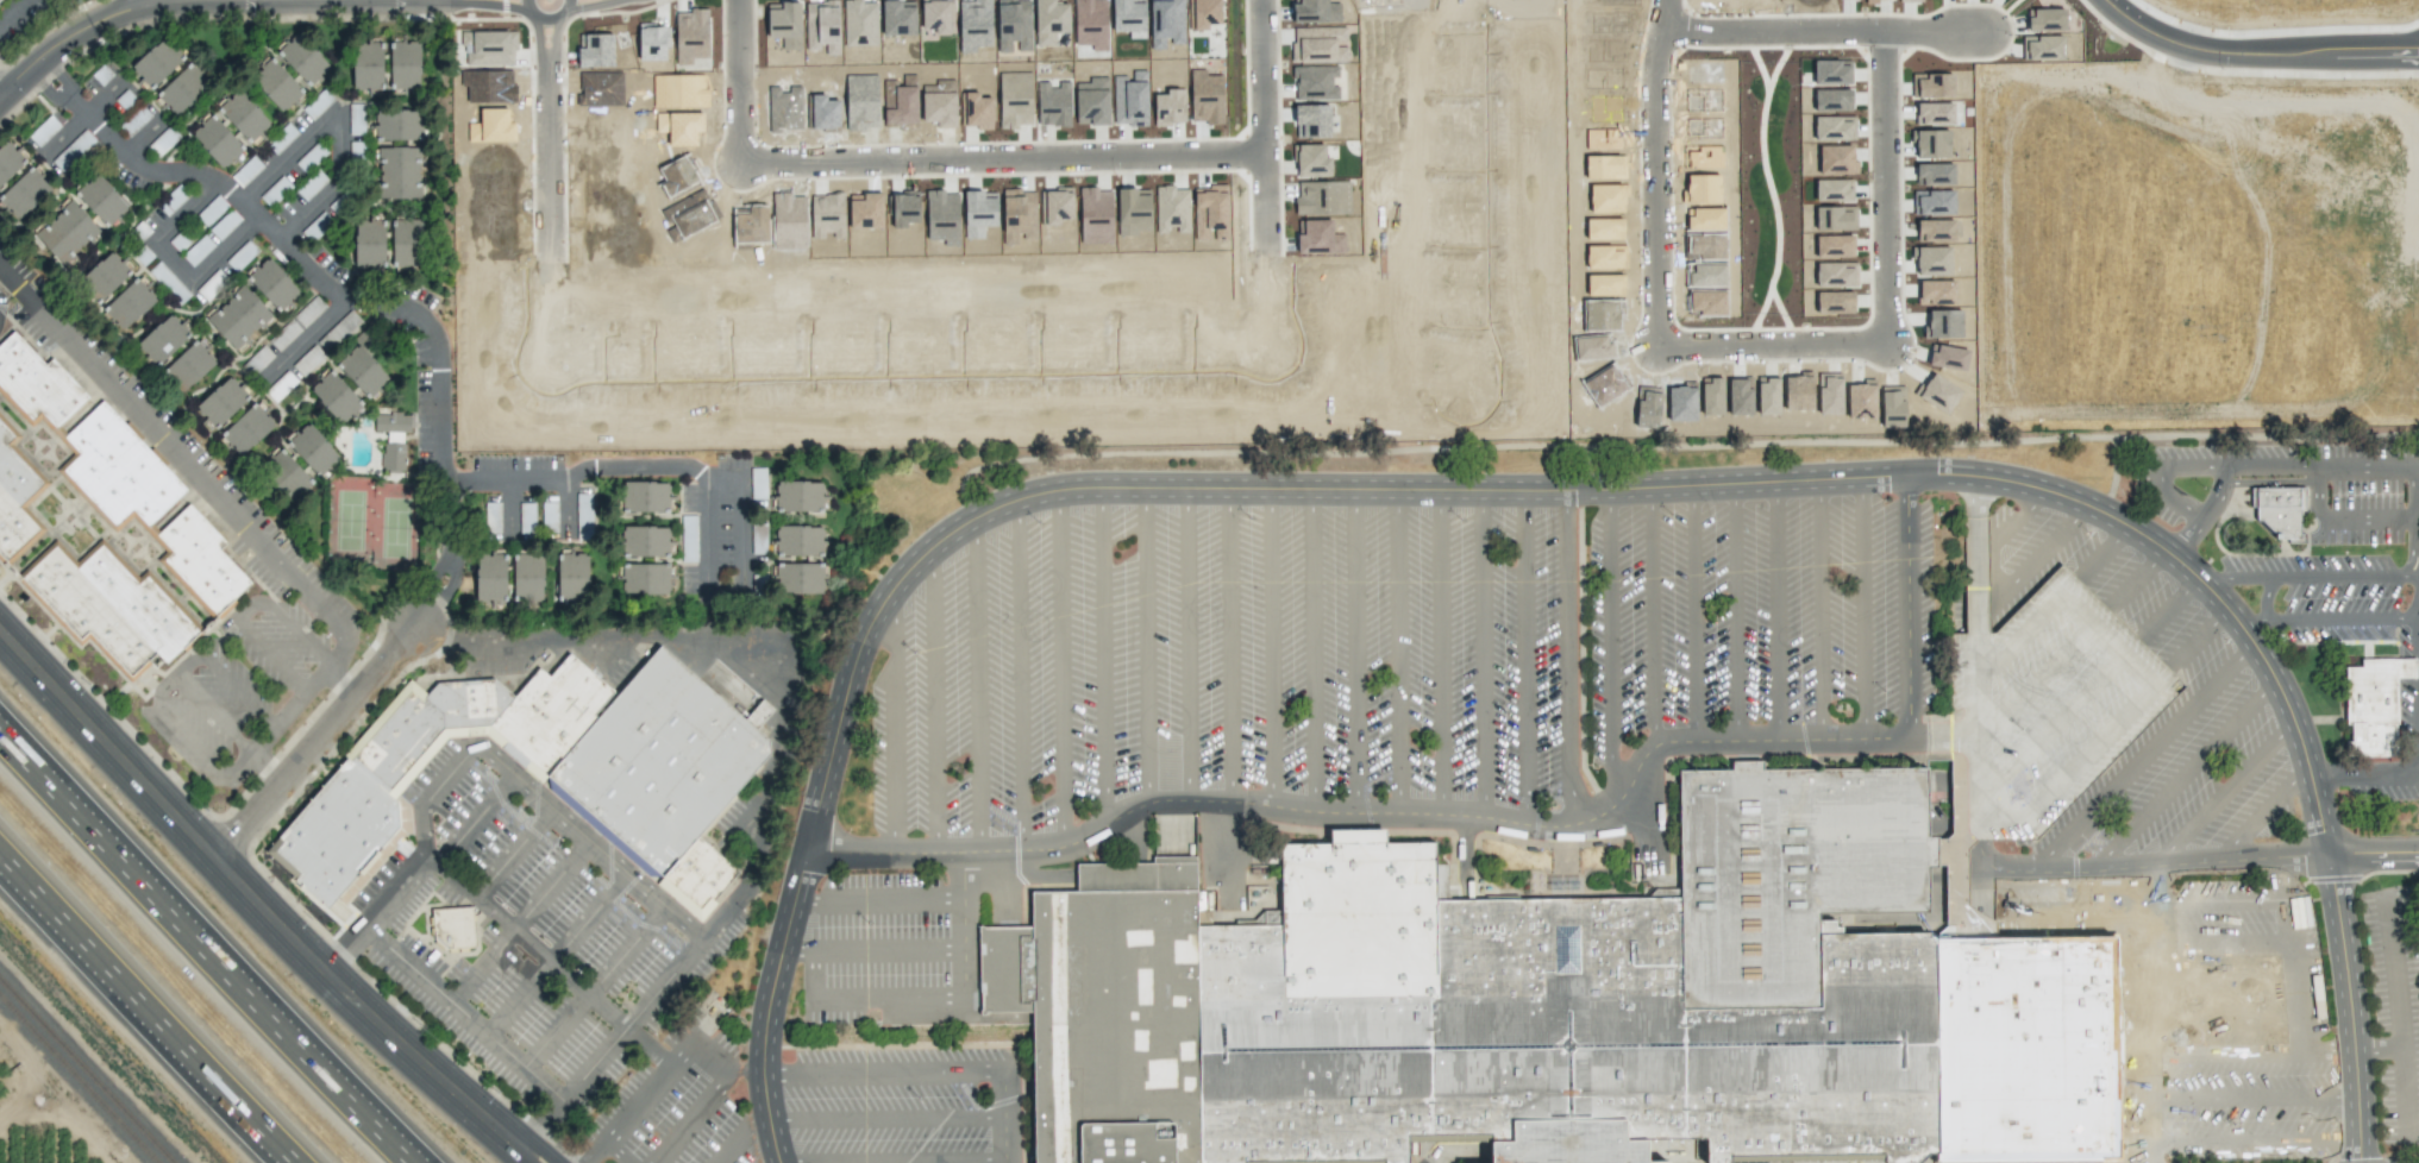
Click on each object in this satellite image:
building: (0, 0)
road: (528, 0)
building: (1876, 0)
building: (1910, 0)
road: (134, 5)
road: (255, 5)
building: (1315, 11)
road: (13, 12)
road: (565, 14)
road: (535, 15)
building: (936, 15)
building: (1207, 15)
building: (1129, 17)
building: (896, 18)
building: (2044, 19)
building: (784, 23)
building: (859, 23)
building: (1051, 23)
building: (1166, 23)
building: (1091, 24)
building: (973, 25)
building: (822, 26)
building: (1013, 26)
road: (1776, 31)
road: (1929, 31)
building: (693, 37)
building: (652, 42)
building: (1317, 44)
building: (488, 48)
building: (2041, 48)
building: (594, 50)
road: (2256, 56)
building: (302, 58)
building: (157, 62)
building: (405, 64)
building: (366, 65)
building: (1831, 71)
road: (735, 76)
building: (1314, 82)
building: (276, 84)
building: (1931, 84)
building: (183, 88)
road: (63, 95)
building: (1205, 98)
building: (1014, 100)
building: (1129, 100)
building: (1831, 100)
building: (861, 102)
building: (900, 103)
building: (939, 103)
building: (1053, 103)
building: (1168, 106)
building: (977, 108)
building: (822, 113)
building: (1932, 113)
building: (243, 115)
road: (80, 118)
building: (356, 119)
building: (1311, 120)
building: (397, 125)
building: (1834, 128)
building: (43, 131)
road: (547, 132)
building: (281, 138)
building: (215, 140)
road: (339, 143)
building: (1930, 143)
building: (73, 151)
road: (289, 156)
building: (311, 157)
road: (1004, 159)
building: (1835, 159)
building: (8, 161)
building: (1311, 161)
building: (246, 171)
building: (399, 172)
building: (1934, 174)
building: (1834, 190)
building: (24, 193)
road: (1464, 194)
building: (1321, 197)
building: (100, 199)
building: (1936, 202)
building: (1214, 205)
road: (308, 206)
building: (1057, 207)
building: (903, 209)
building: (979, 209)
building: (1172, 209)
road: (186, 210)
building: (1133, 210)
building: (865, 212)
building: (1016, 213)
building: (1095, 215)
building: (1834, 218)
building: (224, 224)
building: (1935, 231)
building: (65, 232)
building: (1317, 237)
building: (369, 244)
building: (406, 244)
road: (221, 246)
building: (1832, 246)
building: (198, 250)
road: (171, 259)
building: (1932, 262)
building: (1834, 275)
building: (104, 277)
building: (168, 283)
building: (272, 284)
building: (208, 287)
building: (1936, 291)
road: (331, 293)
building: (1834, 302)
building: (129, 304)
building: (239, 318)
building: (1943, 322)
building: (162, 340)
road: (306, 340)
road: (1761, 344)
road: (1026, 351)
building: (1948, 357)
building: (307, 360)
building: (189, 366)
building: (362, 366)
building: (1797, 391)
building: (1938, 394)
building: (1829, 395)
building: (334, 396)
building: (1711, 396)
building: (1767, 396)
building: (1738, 397)
building: (1860, 400)
building: (221, 402)
building: (1891, 408)
building: (247, 429)
building: (391, 438)
building: (312, 450)
road: (2325, 464)
road: (713, 472)
building: (284, 474)
road: (507, 482)
building: (758, 483)
road: (1243, 488)
road: (2168, 491)
building: (644, 496)
building: (800, 496)
road: (509, 508)
road: (568, 508)
building: (2277, 509)
building: (583, 514)
building: (526, 515)
road: (236, 517)
building: (493, 517)
road: (2338, 518)
road: (2181, 533)
road: (707, 534)
building: (101, 536)
road: (1999, 536)
building: (758, 539)
road: (2415, 540)
building: (645, 541)
building: (797, 541)
road: (2104, 549)
road: (2039, 553)
road: (453, 559)
road: (2306, 574)
building: (572, 576)
road: (2194, 576)
road: (2138, 577)
building: (527, 578)
building: (645, 578)
building: (796, 578)
road: (2418, 585)
road: (2266, 598)
road: (1862, 606)
road: (2170, 606)
road: (1819, 608)
road: (1776, 609)
road: (1735, 611)
road: (1693, 612)
road: (280, 616)
road: (426, 616)
road: (1650, 616)
road: (2325, 618)
road: (2200, 637)
road: (599, 639)
road: (1609, 642)
road: (1145, 645)
road: (1187, 645)
road: (1229, 645)
road: (1270, 646)
road: (1311, 649)
road: (1354, 652)
road: (1397, 652)
road: (1440, 652)
road: (1483, 653)
road: (2418, 654)
road: (270, 655)
road: (1102, 656)
road: (1523, 656)
road: (1566, 656)
road: (1060, 668)
road: (173, 675)
road: (1020, 675)
road: (343, 681)
road: (976, 685)
road: (933, 698)
building: (2373, 705)
road: (214, 712)
road: (892, 721)
road: (313, 742)
road: (2143, 760)
road: (267, 763)
building: (547, 771)
road: (2364, 773)
road: (2182, 775)
road: (2224, 794)
road: (543, 798)
road: (2261, 815)
road: (475, 819)
road: (1500, 821)
road: (513, 851)
road: (2373, 853)
road: (2161, 865)
road: (739, 897)
road: (256, 899)
road: (878, 899)
road: (2220, 899)
road: (374, 913)
road: (589, 917)
road: (520, 920)
road: (963, 924)
building: (452, 928)
road: (2183, 948)
road: (871, 950)
road: (2295, 954)
road: (549, 961)
road: (198, 967)
road: (594, 986)
road: (863, 999)
road: (520, 1000)
road: (2248, 1000)
building: (1573, 1004)
road: (767, 1006)
road: (2348, 1007)
road: (149, 1014)
road: (464, 1014)
road: (2396, 1017)
road: (2275, 1051)
road: (883, 1073)
road: (662, 1079)
railway: (65, 1093)
railway: (65, 1094)
road: (2254, 1096)
road: (2149, 1108)
road: (694, 1115)
road: (1004, 1117)
road: (886, 1120)
road: (742, 1136)
road: (2254, 1140)
road: (615, 1153)
road: (891, 1159)

